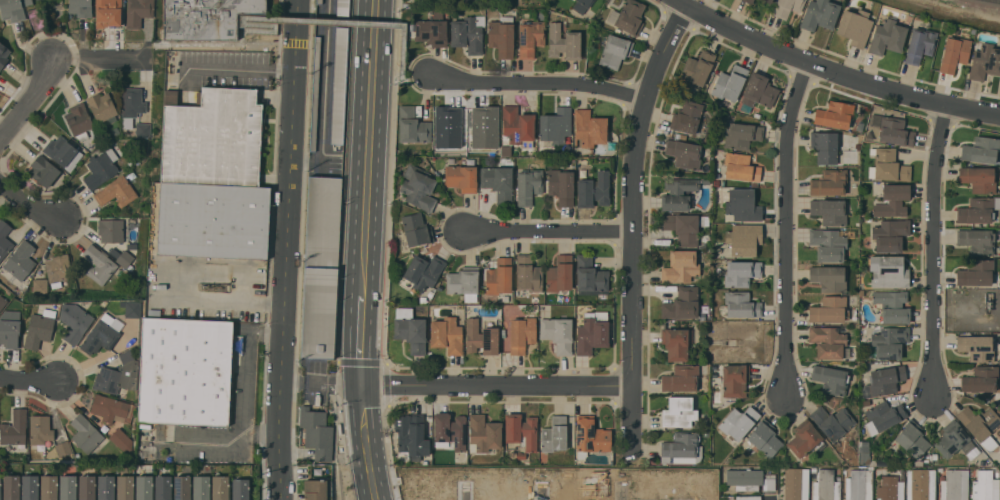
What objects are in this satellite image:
building: (38, 0)
building: (748, 1)
building: (767, 1)
railway: (996, 1)
building: (582, 5)
building: (80, 7)
building: (787, 7)
building: (342, 8)
building: (13, 9)
building: (329, 9)
building: (108, 12)
building: (138, 12)
building: (819, 14)
building: (628, 16)
building: (205, 17)
road: (333, 21)
building: (854, 26)
building: (432, 30)
building: (466, 34)
building: (501, 36)
building: (887, 36)
building: (530, 38)
building: (563, 42)
road: (175, 44)
building: (920, 44)
building: (615, 50)
building: (954, 53)
building: (3, 54)
building: (985, 61)
building: (697, 68)
road: (835, 68)
road: (238, 69)
road: (418, 75)
building: (112, 83)
road: (540, 83)
building: (730, 83)
building: (339, 85)
building: (757, 92)
building: (314, 95)
road: (30, 101)
building: (131, 105)
building: (102, 107)
building: (834, 114)
building: (689, 118)
building: (79, 120)
building: (517, 124)
building: (555, 125)
building: (412, 126)
building: (446, 126)
building: (483, 126)
building: (589, 128)
building: (143, 130)
building: (115, 131)
building: (894, 131)
building: (95, 133)
building: (742, 135)
building: (229, 137)
building: (178, 140)
building: (91, 142)
building: (824, 146)
road: (368, 147)
building: (981, 149)
building: (60, 150)
building: (684, 153)
building: (889, 165)
road: (288, 166)
building: (740, 167)
building: (101, 168)
building: (43, 170)
building: (461, 177)
building: (978, 178)
building: (498, 182)
building: (829, 182)
building: (61, 185)
building: (528, 185)
building: (561, 186)
building: (418, 187)
building: (593, 189)
building: (116, 191)
building: (679, 192)
building: (892, 200)
road: (28, 203)
building: (743, 205)
building: (978, 209)
building: (829, 210)
building: (213, 220)
road: (633, 224)
building: (683, 227)
road: (787, 227)
building: (416, 229)
building: (111, 230)
road: (550, 233)
building: (890, 234)
building: (4, 238)
building: (743, 238)
building: (976, 241)
building: (827, 244)
road: (934, 249)
building: (125, 258)
building: (20, 260)
building: (99, 264)
building: (321, 266)
building: (680, 266)
building: (58, 269)
building: (888, 271)
building: (422, 272)
building: (741, 272)
building: (975, 272)
building: (528, 273)
building: (559, 273)
building: (499, 276)
building: (591, 276)
building: (829, 277)
building: (463, 280)
building: (40, 285)
road: (174, 288)
petroleum well: (988, 301)
building: (2, 302)
building: (681, 303)
building: (741, 304)
building: (892, 305)
building: (131, 308)
building: (828, 309)
building: (74, 321)
building: (39, 328)
building: (10, 329)
building: (410, 329)
road: (264, 331)
building: (592, 332)
building: (521, 333)
building: (557, 333)
building: (100, 334)
building: (447, 334)
building: (481, 337)
road: (362, 340)
building: (889, 341)
building: (828, 342)
building: (675, 343)
building: (976, 346)
road: (281, 357)
building: (185, 374)
building: (118, 375)
building: (681, 378)
building: (734, 379)
building: (830, 379)
building: (886, 379)
building: (980, 379)
road: (29, 380)
road: (322, 381)
traffic signals: (361, 386)
road: (497, 387)
road: (245, 406)
building: (111, 408)
road: (285, 411)
building: (679, 411)
building: (884, 414)
building: (738, 421)
building: (832, 421)
building: (980, 425)
building: (14, 428)
building: (40, 429)
building: (450, 429)
building: (316, 432)
building: (520, 432)
building: (85, 433)
building: (483, 433)
building: (554, 435)
building: (590, 436)
building: (410, 437)
building: (765, 438)
building: (805, 438)
building: (912, 438)
building: (953, 439)
building: (122, 440)
road: (203, 442)
road: (365, 443)
building: (681, 447)
building: (63, 448)
road: (286, 471)
building: (744, 478)
building: (0, 484)
building: (769, 484)
building: (859, 484)
building: (920, 484)
building: (954, 485)
building: (12, 486)
building: (794, 486)
building: (826, 486)
building: (985, 486)
building: (30, 487)
building: (49, 487)
building: (67, 487)
building: (86, 487)
building: (106, 487)
building: (125, 487)
building: (144, 487)
building: (163, 487)
building: (182, 487)
building: (201, 487)
building: (220, 487)
building: (3, 488)
building: (240, 489)
building: (316, 489)
building: (890, 489)
road: (539, 493)
road: (463, 494)
road: (624, 495)
building: (748, 497)

